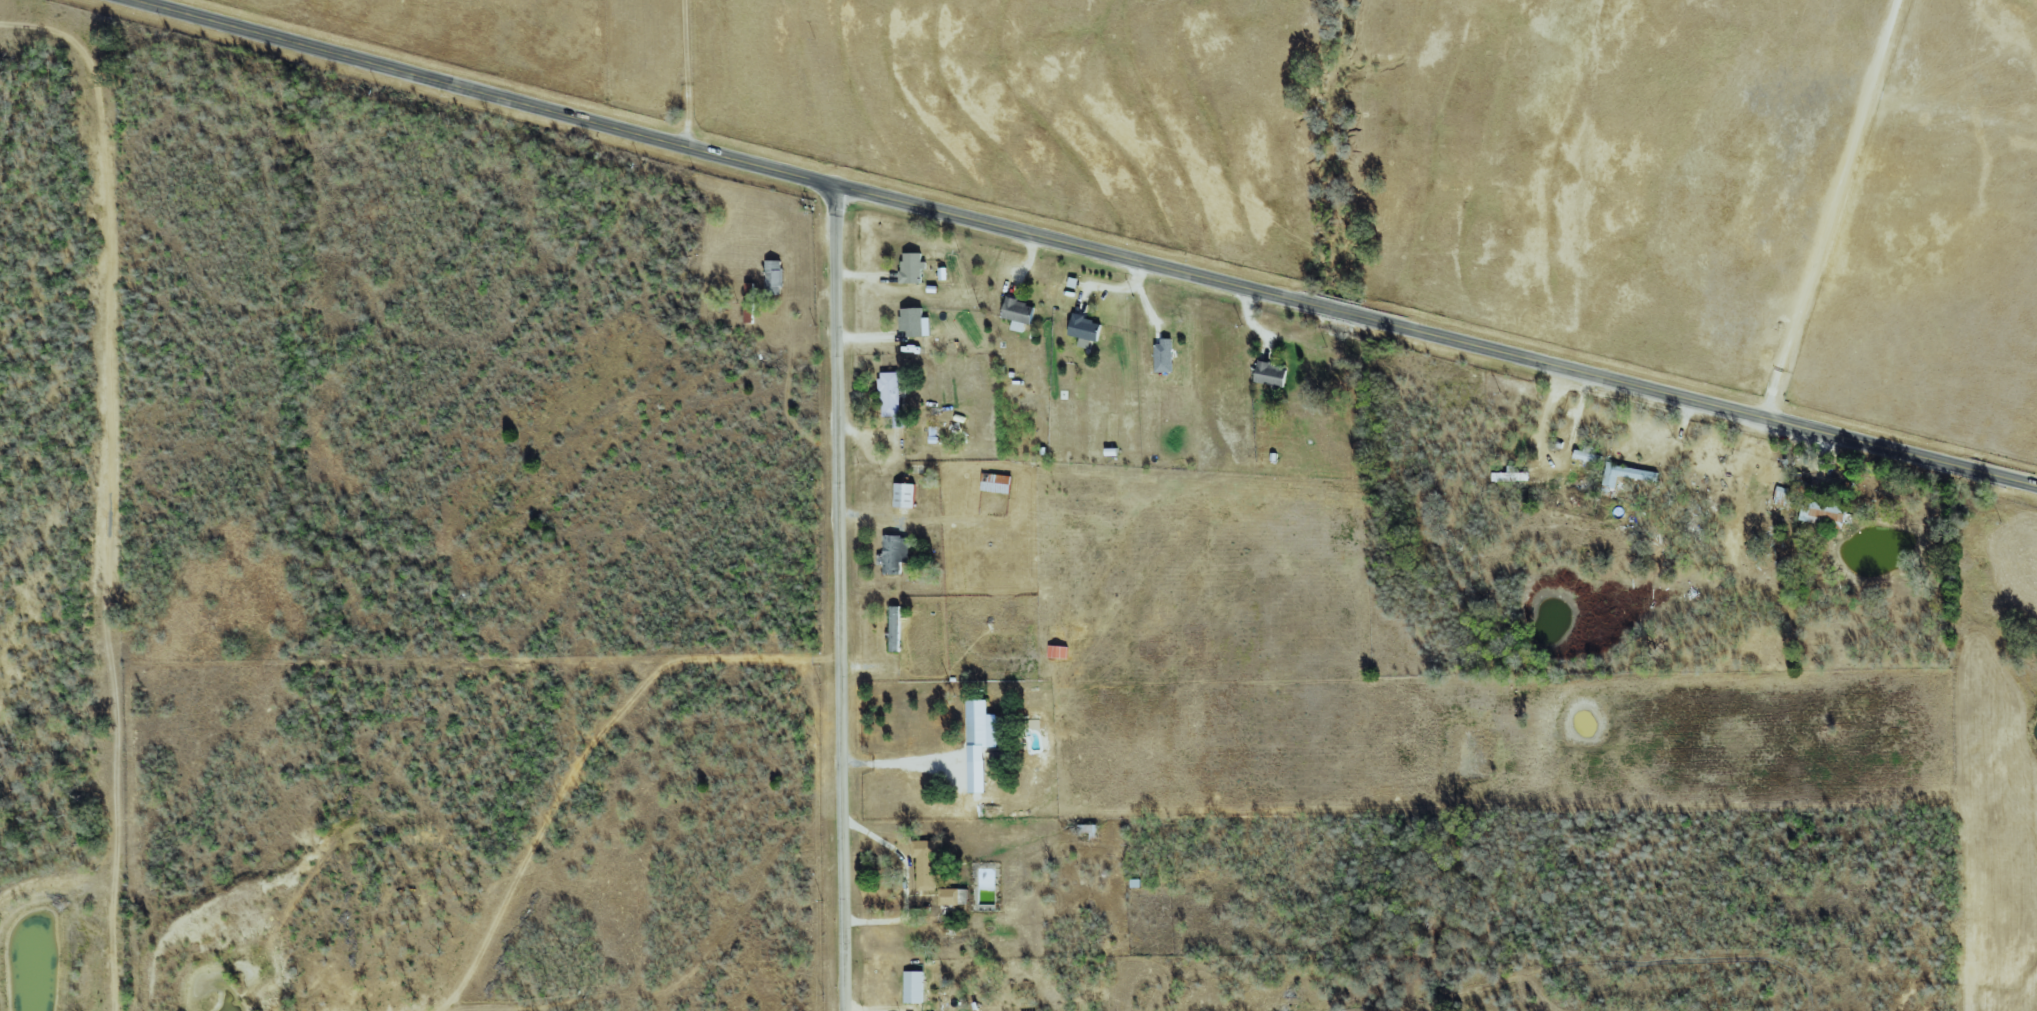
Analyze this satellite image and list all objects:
road: (687, 73)
road: (1830, 208)
road: (1083, 248)
building: (913, 267)
building: (776, 273)
building: (750, 302)
building: (1020, 313)
building: (913, 320)
building: (1087, 329)
building: (1165, 355)
building: (1273, 374)
building: (893, 396)
building: (1588, 456)
building: (1628, 474)
building: (1511, 476)
building: (997, 483)
building: (907, 495)
building: (1826, 512)
building: (896, 552)
road: (840, 598)
building: (896, 627)
building: (1059, 651)
road: (1878, 696)
building: (982, 724)
road: (903, 762)
building: (978, 775)
building: (927, 862)
building: (949, 896)
building: (916, 986)

